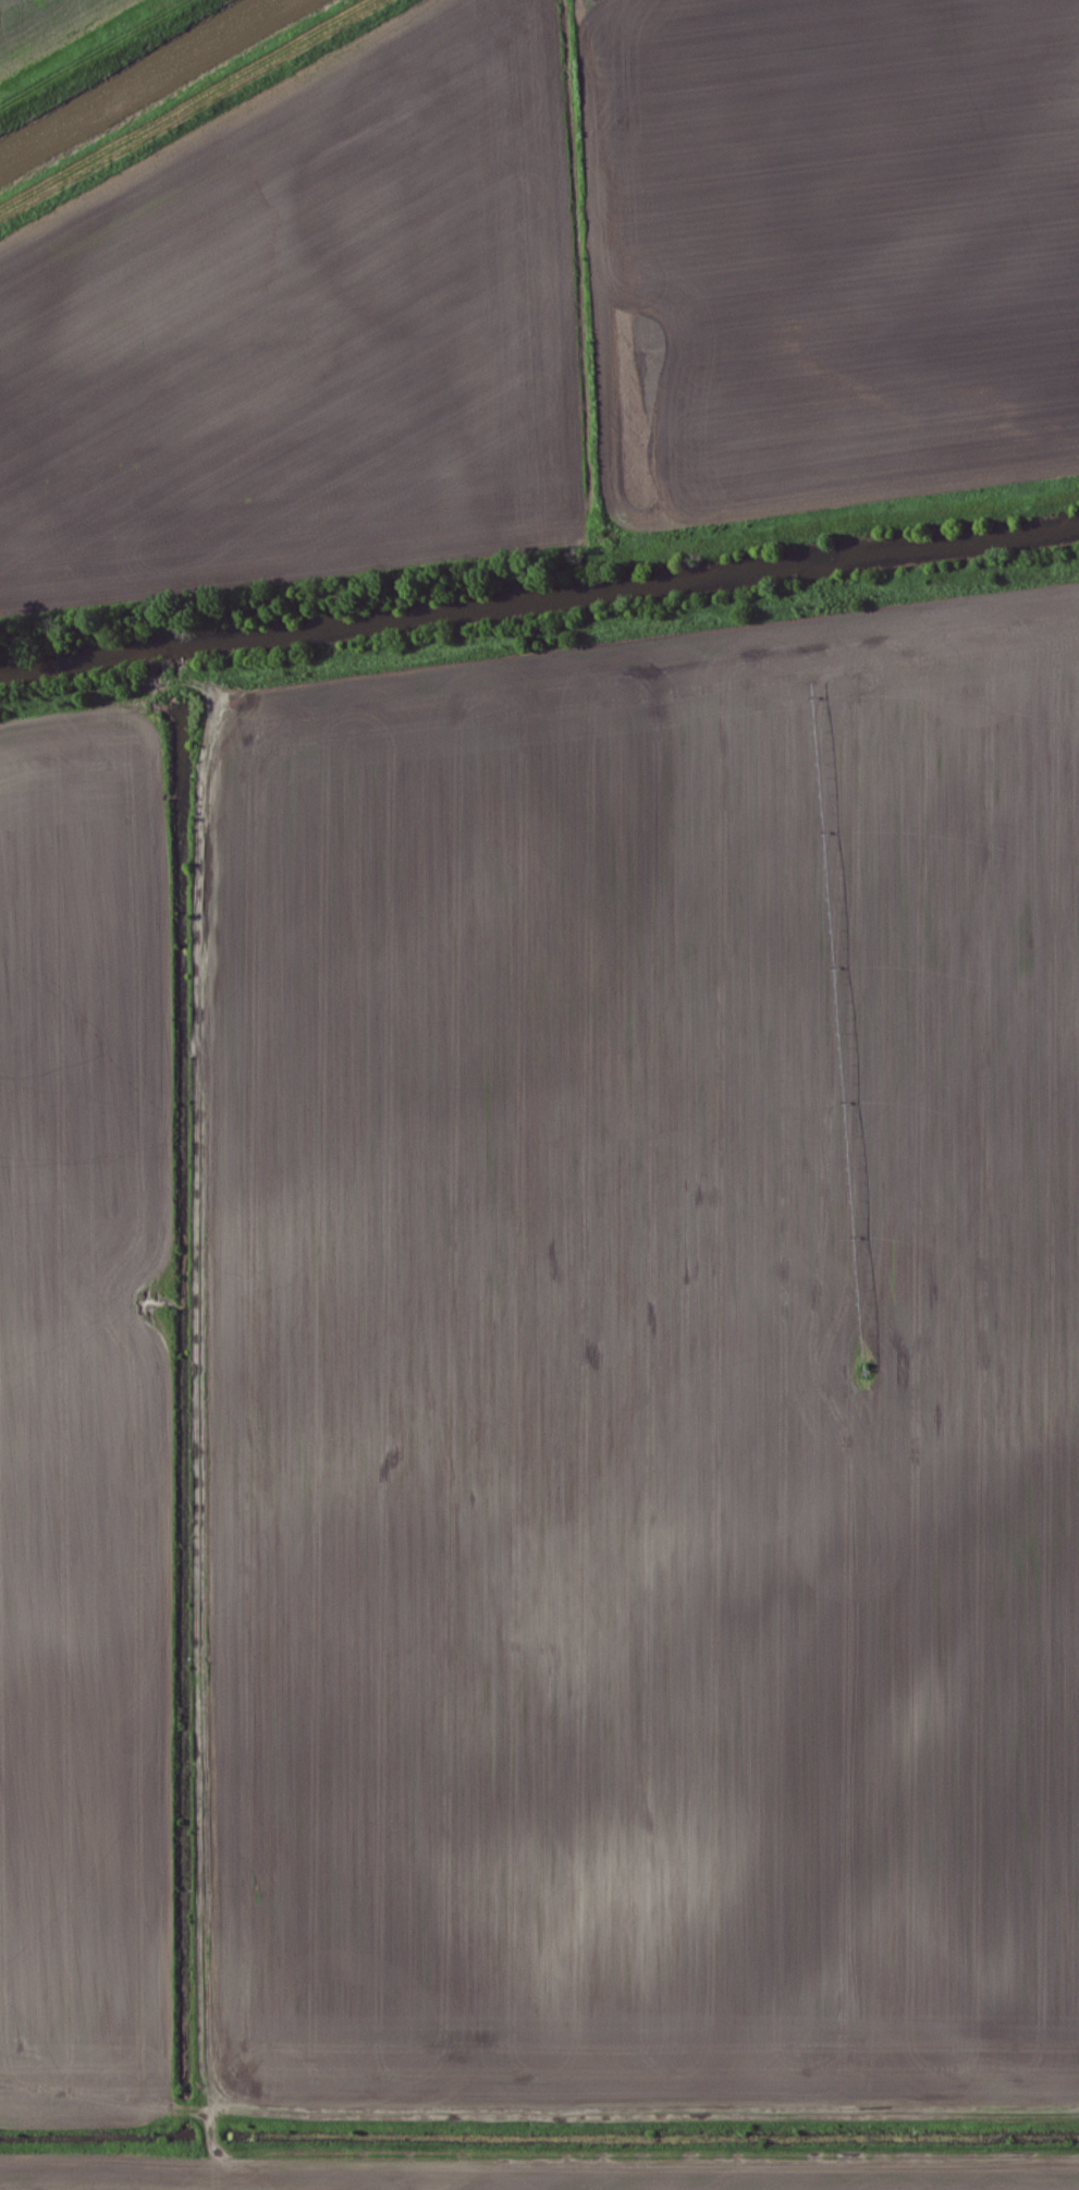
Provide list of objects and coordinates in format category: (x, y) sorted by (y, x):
road: (211, 1725)

